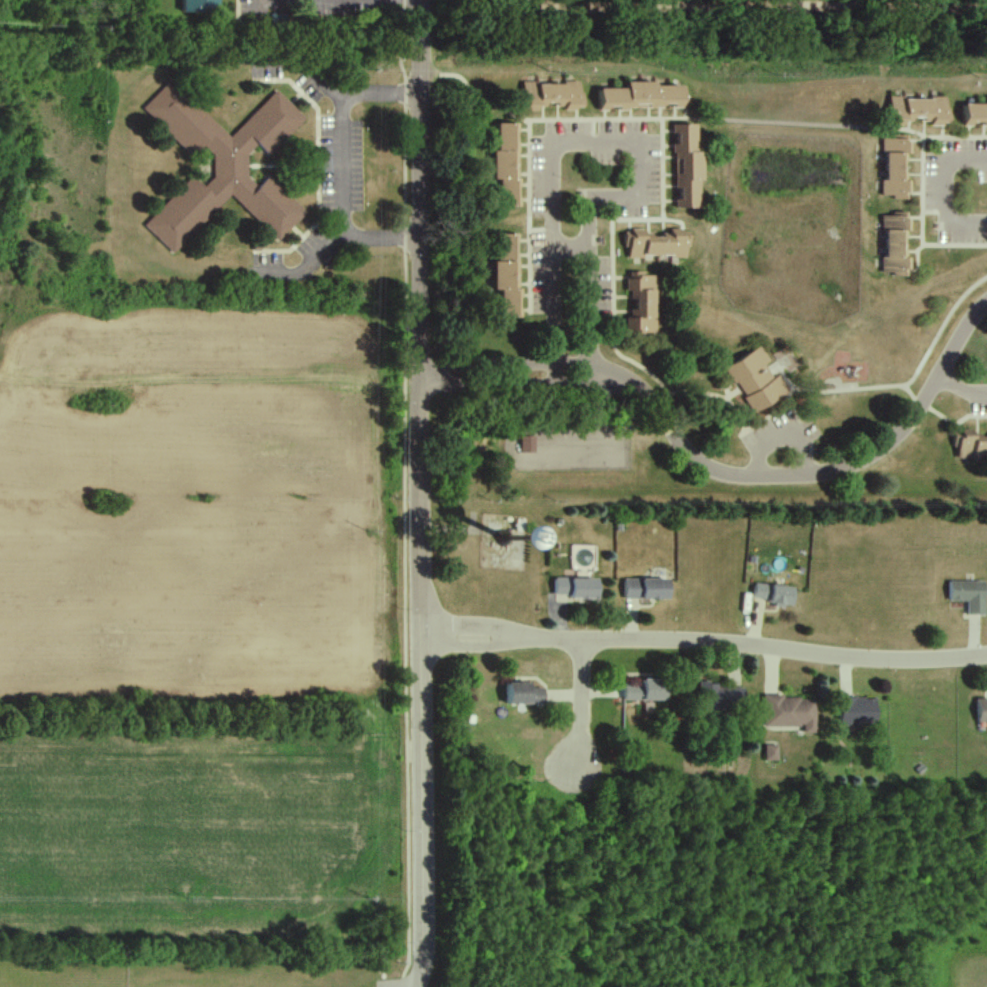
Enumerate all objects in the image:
building: (202, 6)
building: (558, 95)
building: (645, 97)
building: (913, 111)
building: (972, 113)
road: (619, 137)
building: (507, 165)
building: (223, 166)
building: (689, 168)
building: (888, 168)
road: (336, 169)
road: (948, 190)
building: (889, 243)
building: (659, 244)
building: (508, 276)
building: (642, 304)
building: (757, 381)
road: (960, 391)
building: (968, 443)
road: (722, 472)
road: (420, 493)
building: (577, 589)
building: (647, 590)
building: (775, 594)
building: (965, 596)
road: (703, 640)
building: (645, 691)
building: (523, 695)
building: (722, 698)
road: (581, 708)
building: (858, 712)
building: (980, 712)
building: (791, 713)

